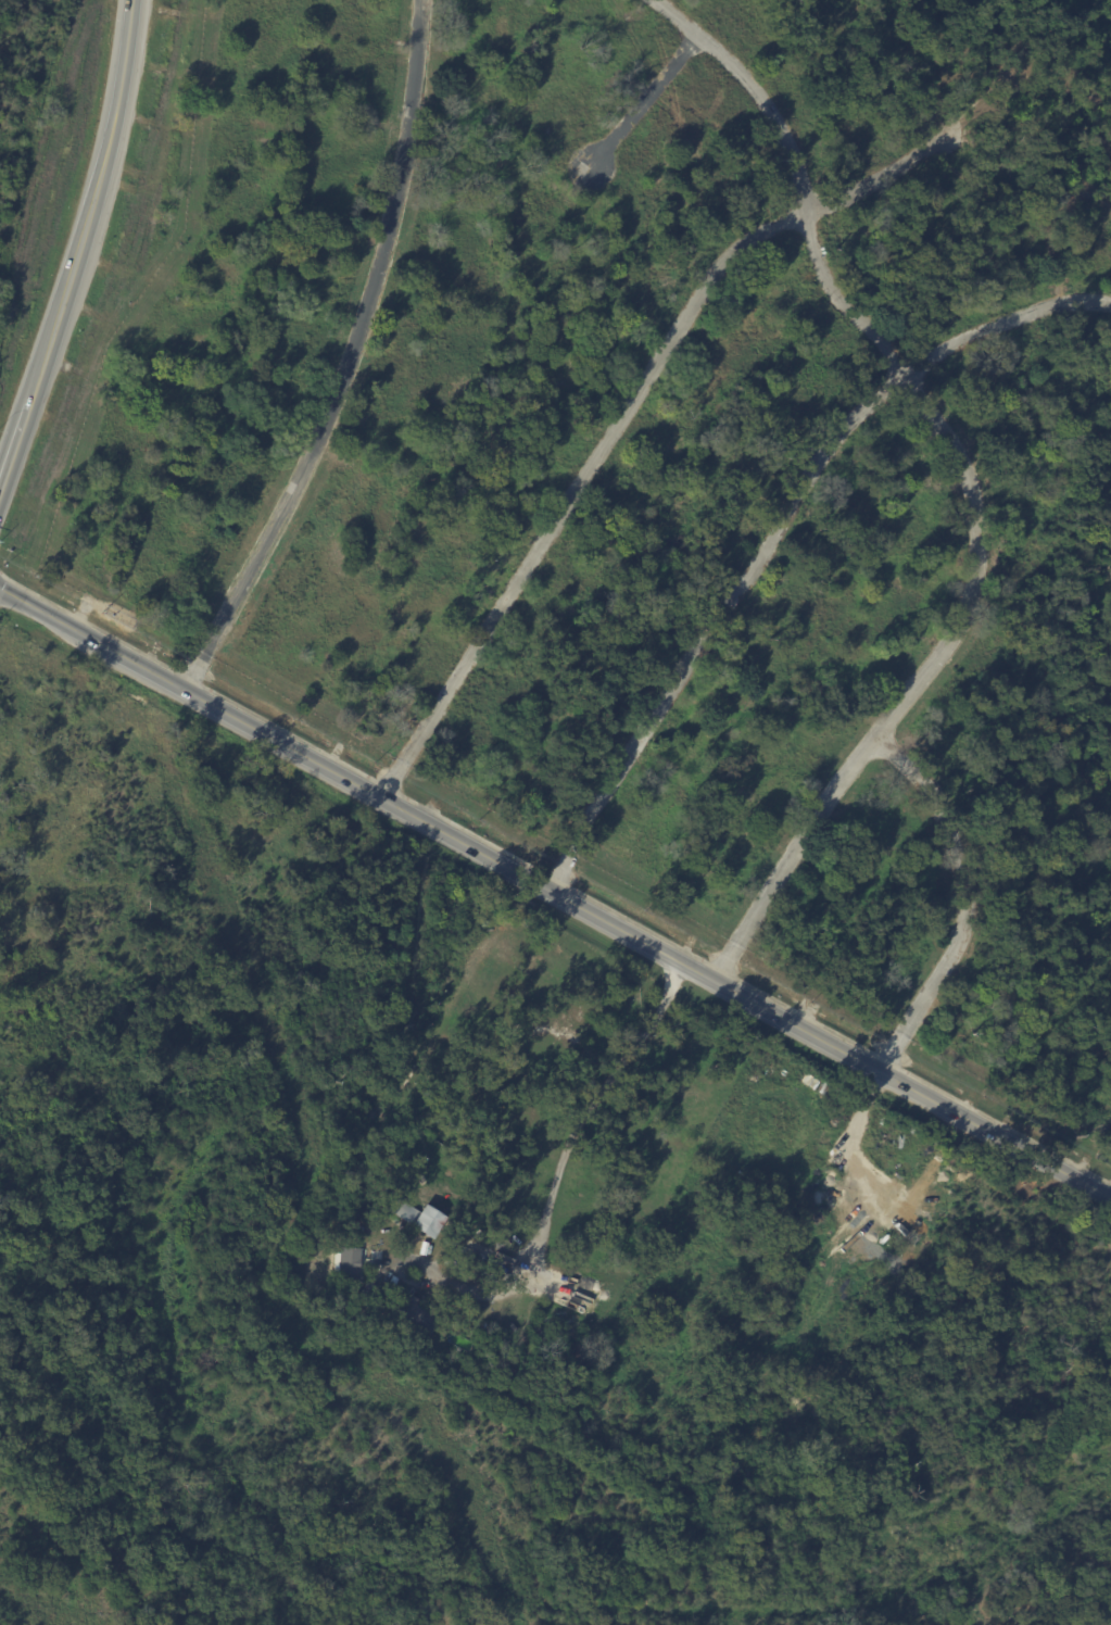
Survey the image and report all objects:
road: (643, 100)
airport: (21, 104)
road: (875, 178)
road: (87, 218)
road: (349, 362)
road: (8, 454)
road: (969, 476)
road: (576, 490)
road: (780, 532)
road: (555, 895)
road: (960, 900)
building: (891, 1137)
road: (555, 1177)
building: (411, 1214)
building: (354, 1218)
building: (346, 1263)
building: (413, 1315)
building: (495, 1395)

